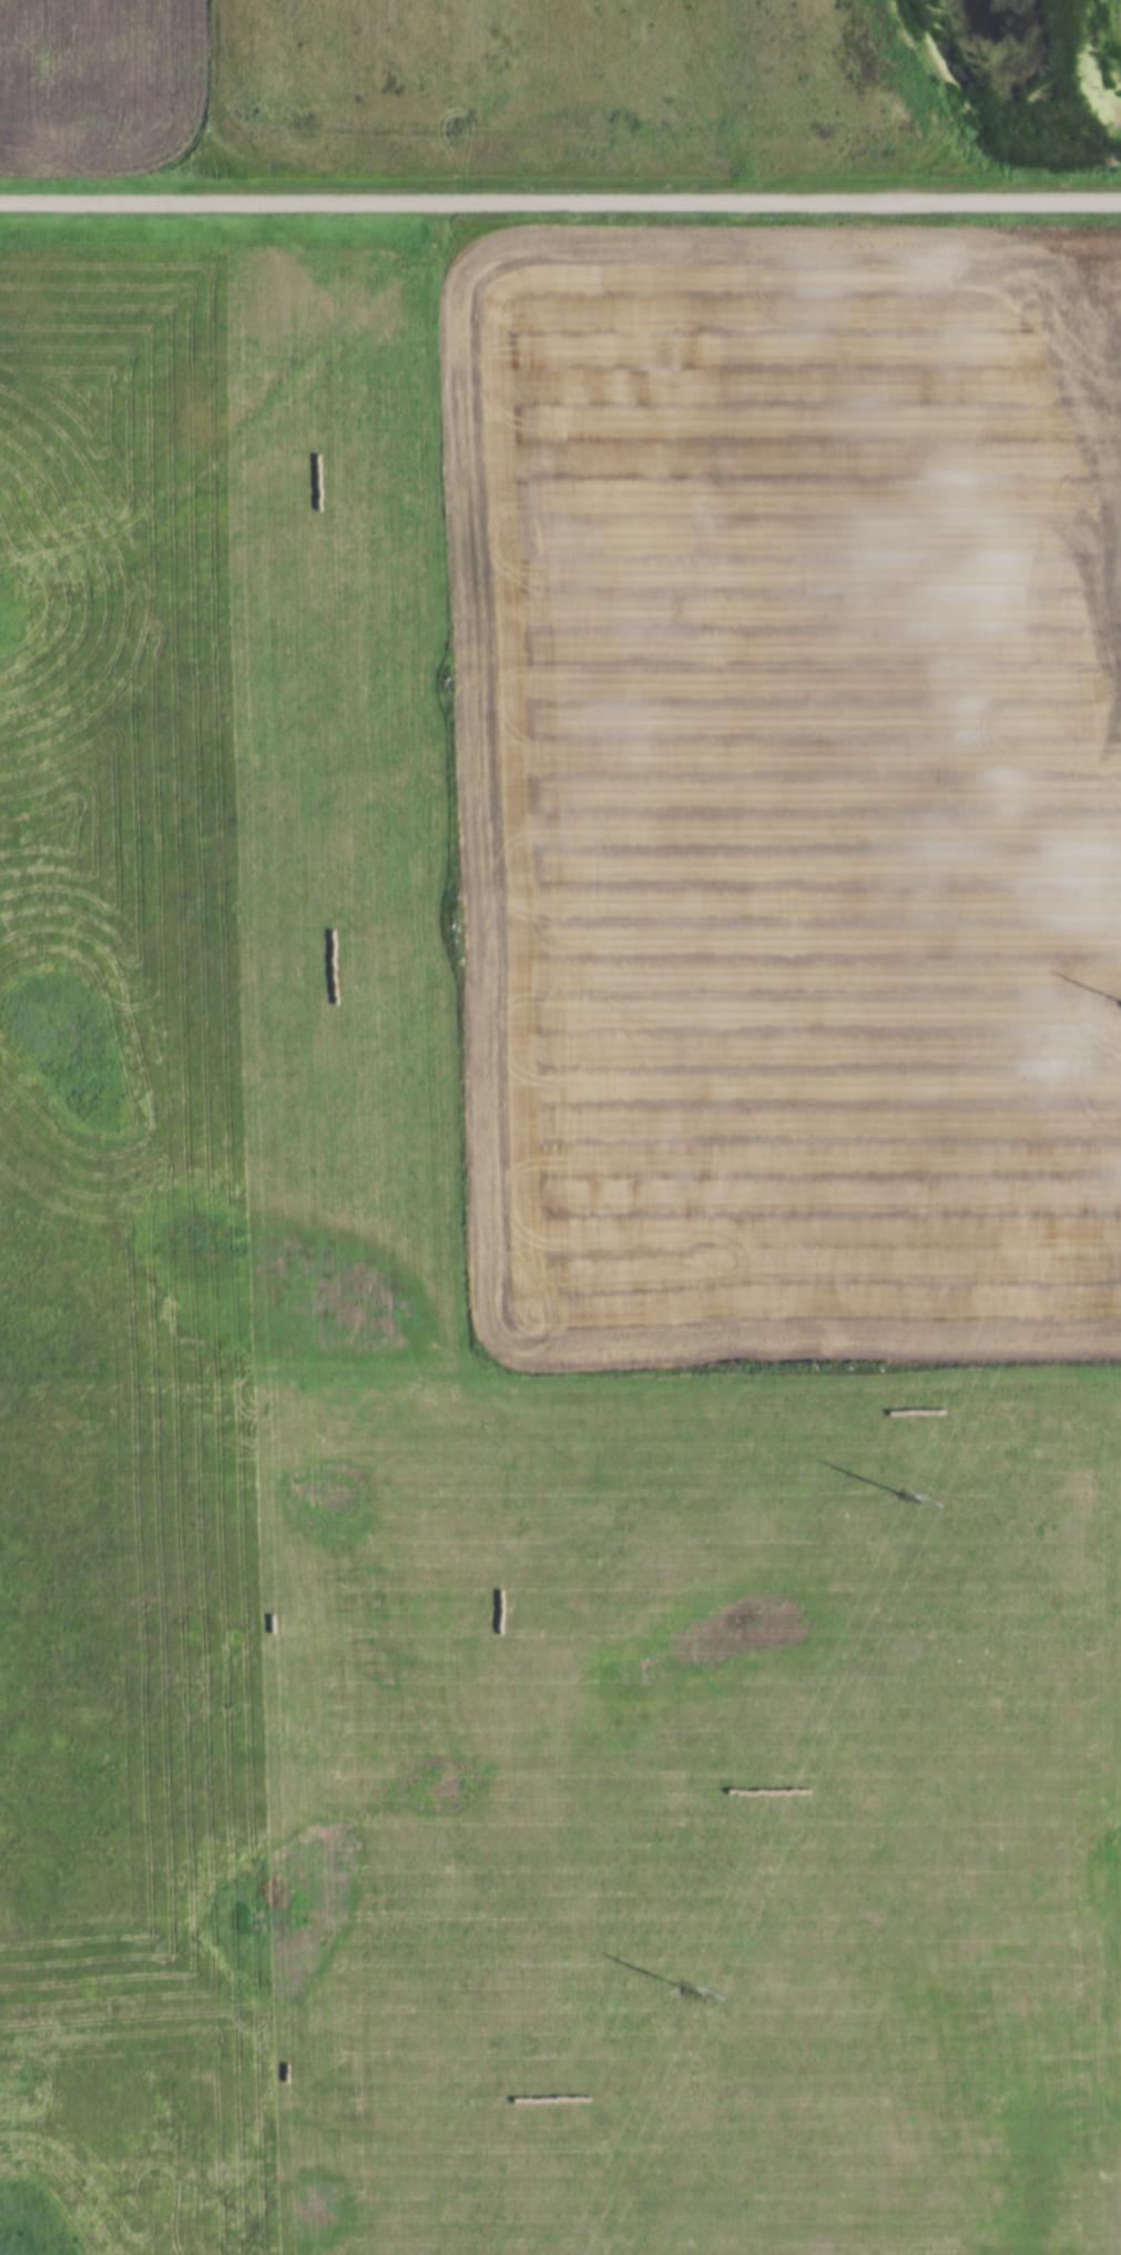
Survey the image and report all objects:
road: (560, 196)
power tower: (909, 1494)
power tower: (690, 1991)

